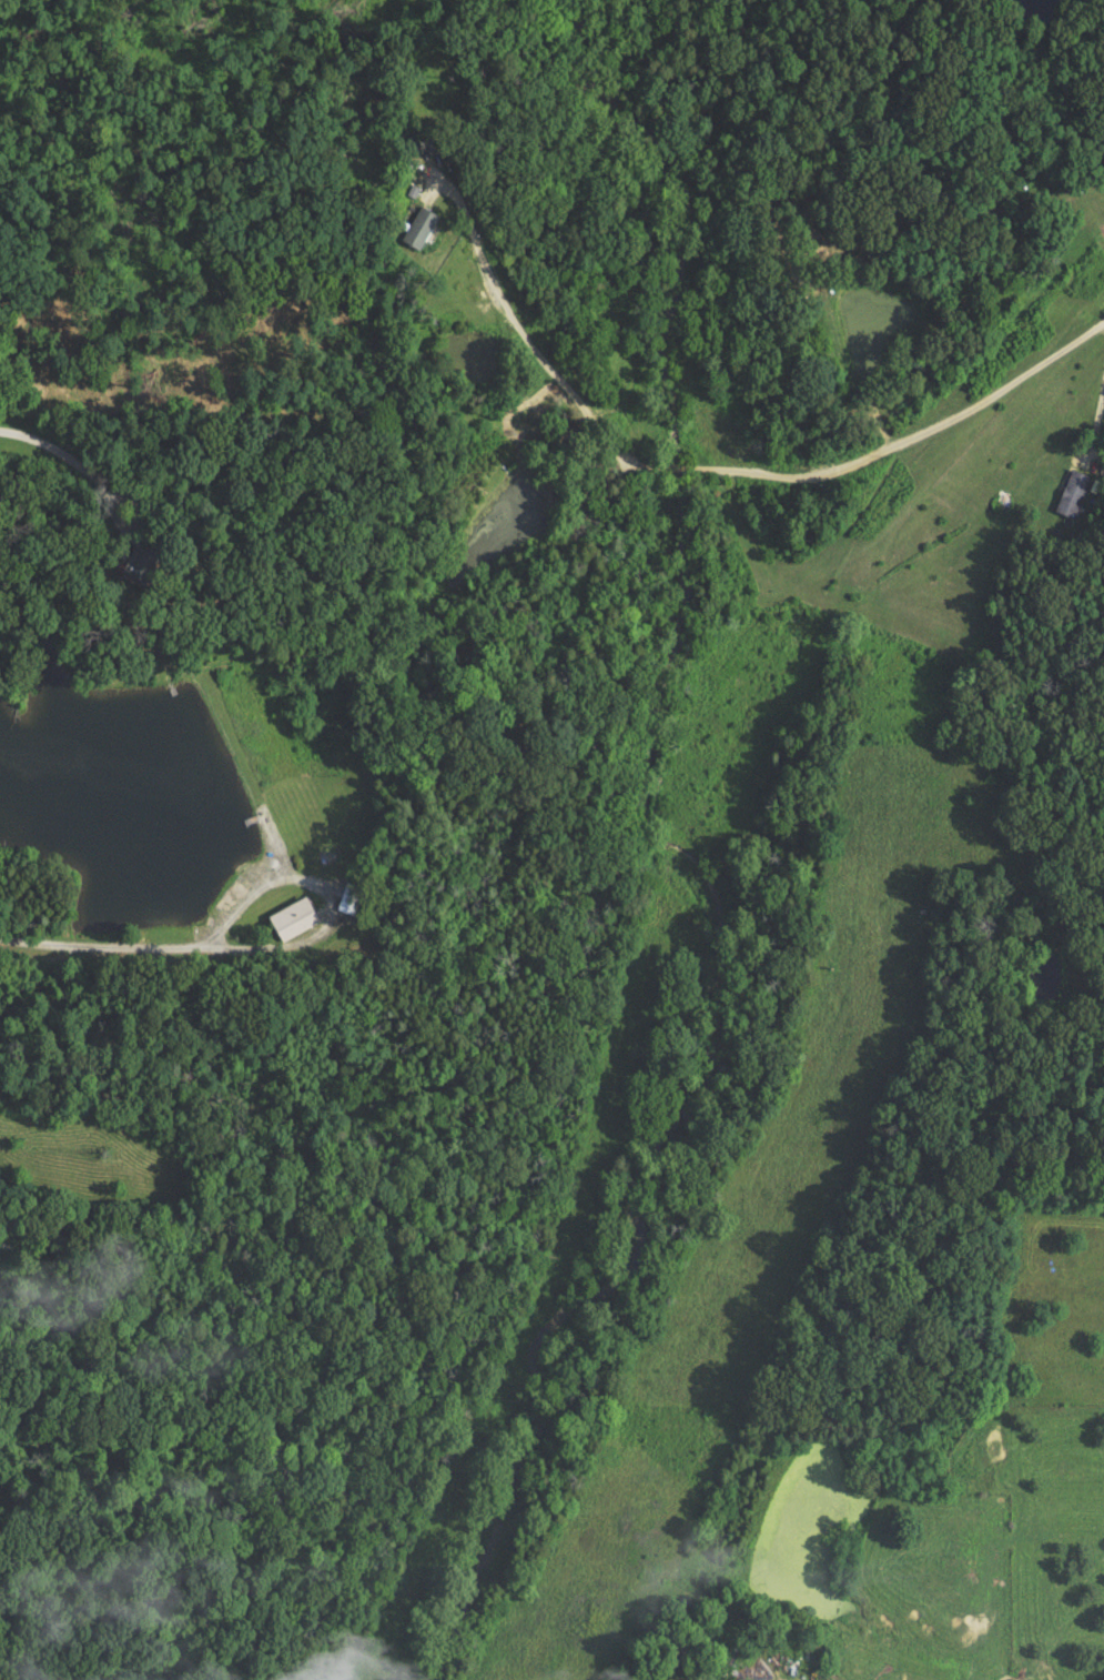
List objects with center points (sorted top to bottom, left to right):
building: (419, 233)
building: (1068, 499)
road: (332, 897)
building: (294, 923)
road: (103, 947)

